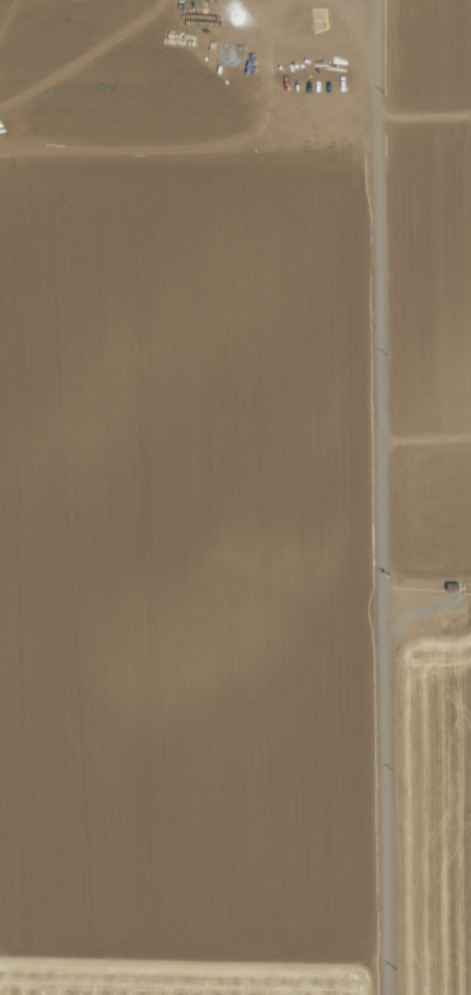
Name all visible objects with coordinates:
road: (381, 497)

